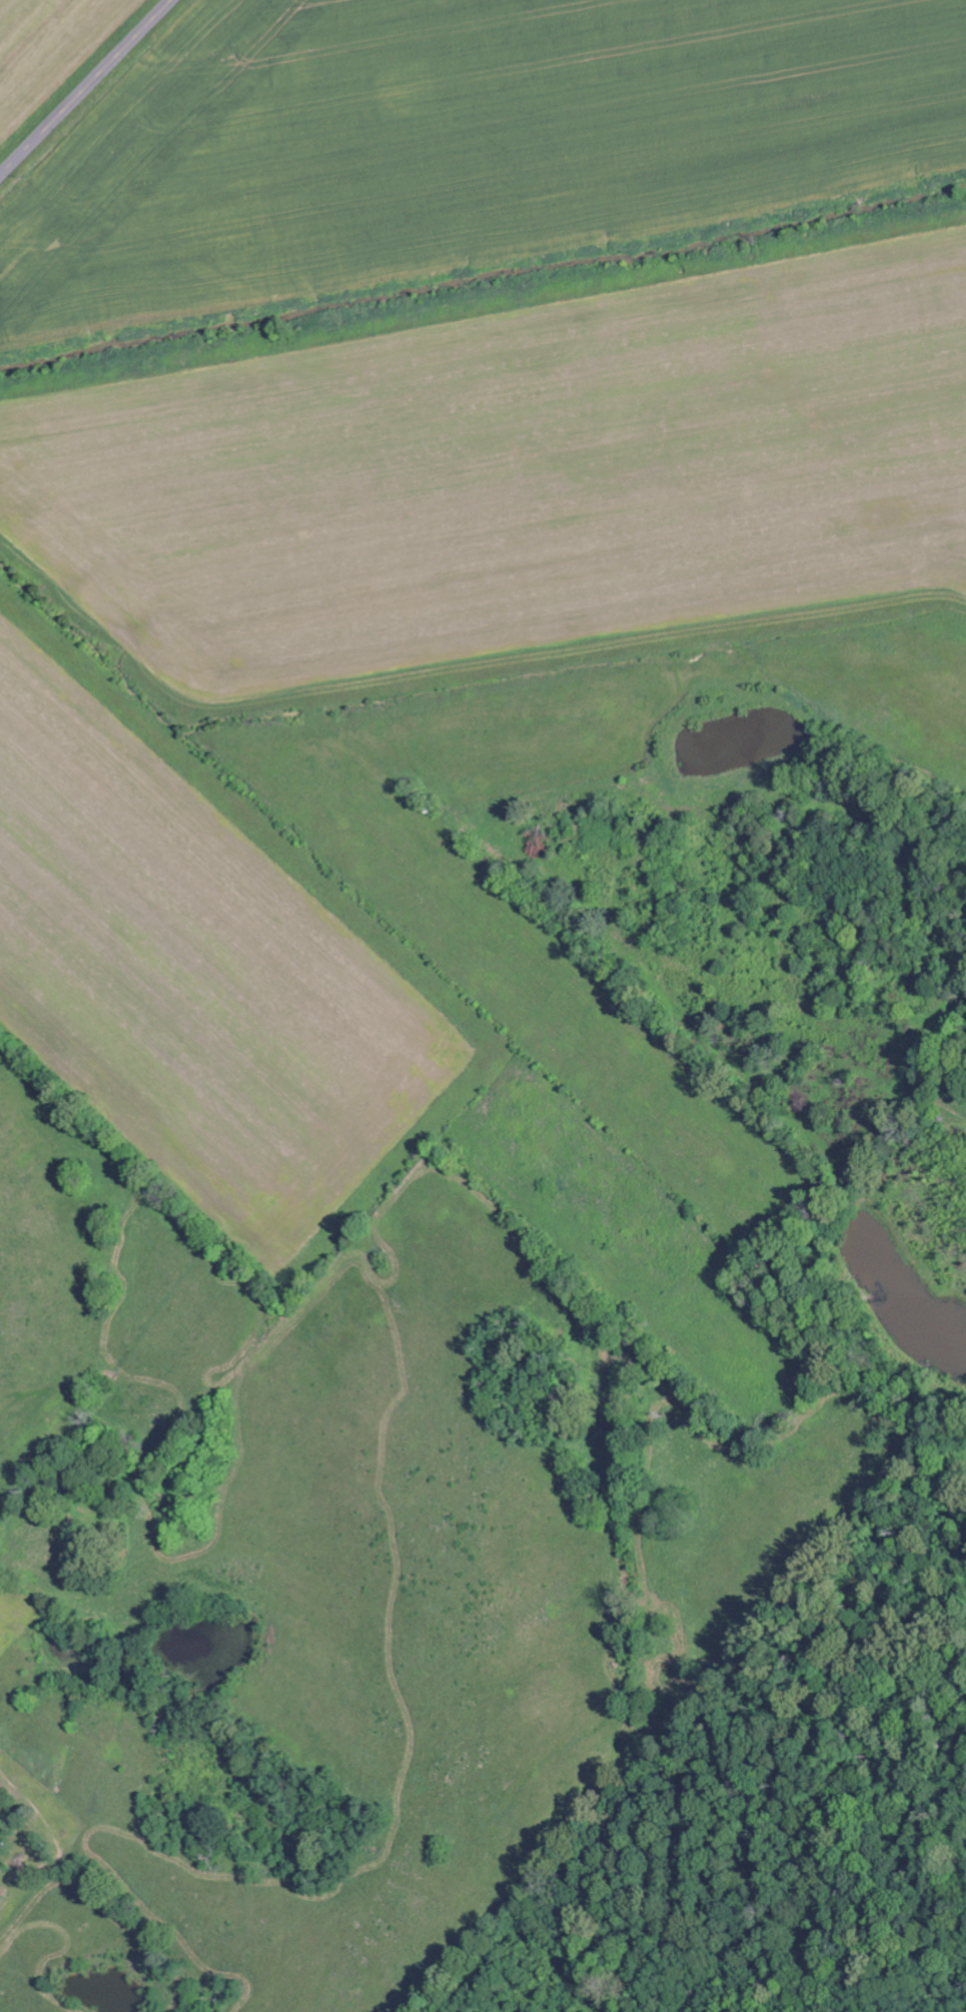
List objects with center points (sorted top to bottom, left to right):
road: (86, 88)

